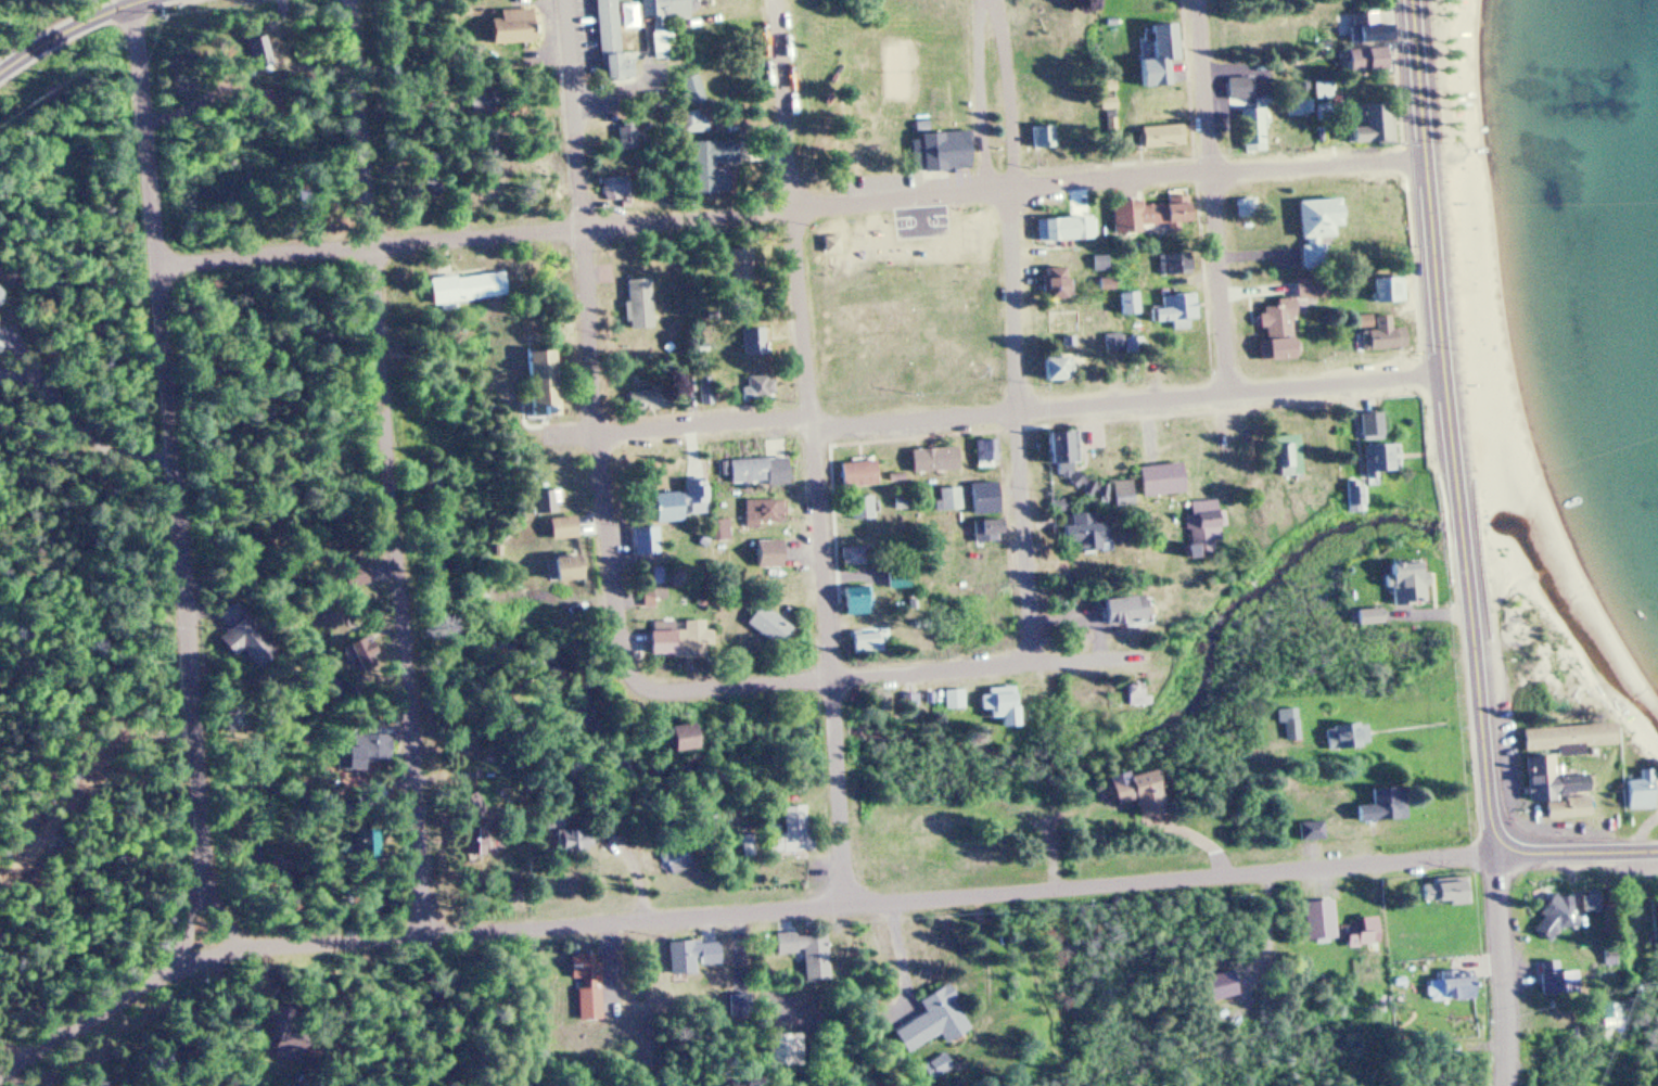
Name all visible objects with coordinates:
road: (127, 1)
road: (137, 1)
building: (503, 16)
road: (47, 22)
building: (624, 28)
building: (1372, 30)
road: (7, 34)
building: (1164, 44)
building: (1366, 61)
building: (1241, 89)
building: (689, 90)
building: (1328, 92)
building: (1302, 107)
building: (689, 123)
building: (1042, 126)
building: (1372, 126)
building: (923, 127)
building: (1255, 129)
building: (620, 133)
building: (1162, 137)
building: (945, 152)
building: (707, 163)
building: (612, 188)
road: (1215, 196)
road: (792, 205)
building: (1152, 214)
park: (926, 223)
building: (1318, 228)
building: (1054, 230)
building: (831, 245)
building: (1176, 264)
building: (1, 281)
building: (1056, 283)
building: (461, 290)
building: (634, 304)
building: (1128, 304)
building: (1176, 312)
building: (1276, 329)
road: (1012, 331)
building: (1383, 335)
building: (757, 342)
road: (588, 343)
building: (1113, 344)
building: (1056, 370)
building: (536, 384)
building: (758, 389)
building: (705, 391)
road: (992, 411)
road: (1451, 422)
building: (1376, 429)
road: (813, 452)
building: (984, 452)
building: (1056, 452)
building: (1288, 457)
building: (1383, 460)
building: (931, 461)
road: (391, 464)
building: (757, 472)
building: (857, 475)
building: (1160, 482)
road: (169, 490)
building: (1120, 496)
building: (948, 500)
building: (1361, 500)
building: (678, 503)
building: (544, 504)
building: (982, 507)
building: (860, 509)
building: (764, 512)
building: (1204, 527)
building: (558, 529)
building: (722, 531)
building: (1086, 534)
building: (647, 541)
building: (765, 554)
building: (857, 557)
building: (563, 568)
building: (350, 578)
building: (1407, 583)
building: (856, 602)
building: (1120, 611)
building: (1370, 617)
building: (766, 626)
building: (693, 639)
building: (237, 643)
building: (867, 643)
building: (350, 653)
road: (884, 674)
building: (956, 701)
building: (1006, 707)
building: (1293, 726)
building: (1349, 738)
building: (676, 739)
building: (1569, 739)
building: (366, 750)
building: (1557, 792)
building: (1133, 793)
building: (1643, 794)
building: (1385, 807)
road: (1281, 828)
building: (1311, 832)
building: (789, 833)
building: (565, 842)
building: (360, 846)
road: (1578, 853)
building: (671, 858)
road: (636, 870)
building: (1442, 895)
road: (736, 911)
building: (1317, 922)
building: (1553, 922)
road: (174, 925)
building: (1654, 927)
building: (1359, 935)
building: (800, 950)
building: (686, 958)
road: (1498, 963)
building: (1551, 980)
building: (578, 987)
building: (1447, 991)
building: (738, 1009)
building: (927, 1020)
building: (783, 1051)
building: (935, 1068)

